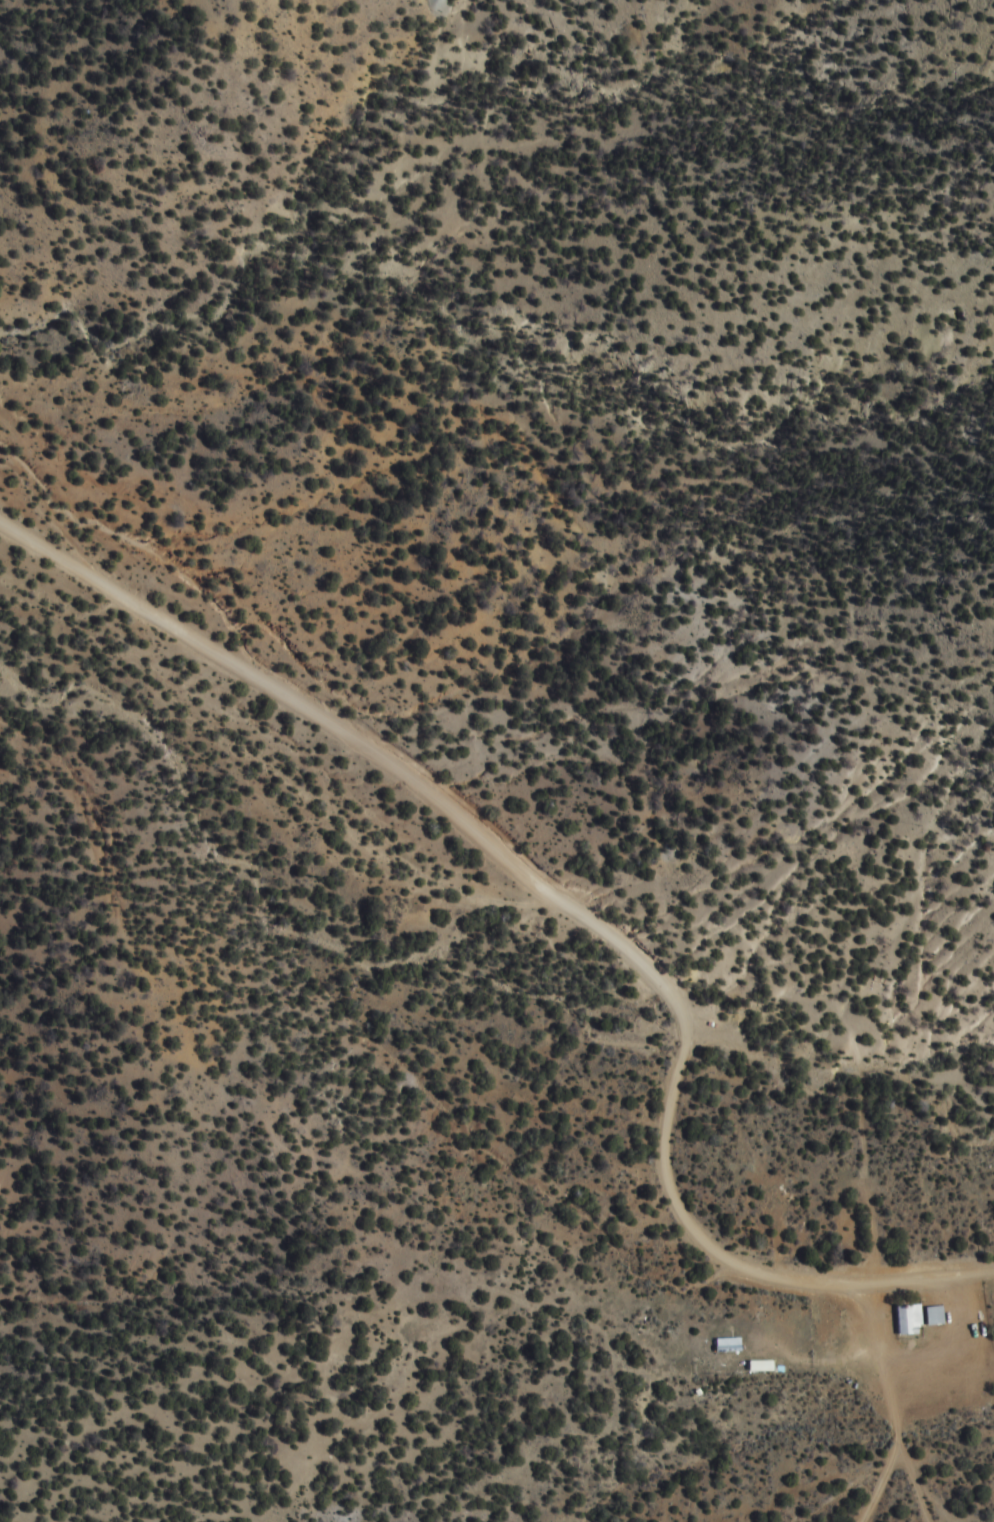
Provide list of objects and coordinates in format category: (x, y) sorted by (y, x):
road: (463, 826)
road: (989, 1274)
road: (848, 1287)
building: (917, 1319)
building: (722, 1348)
road: (825, 1366)
building: (755, 1367)
road: (886, 1373)
road: (877, 1490)
road: (911, 1490)

